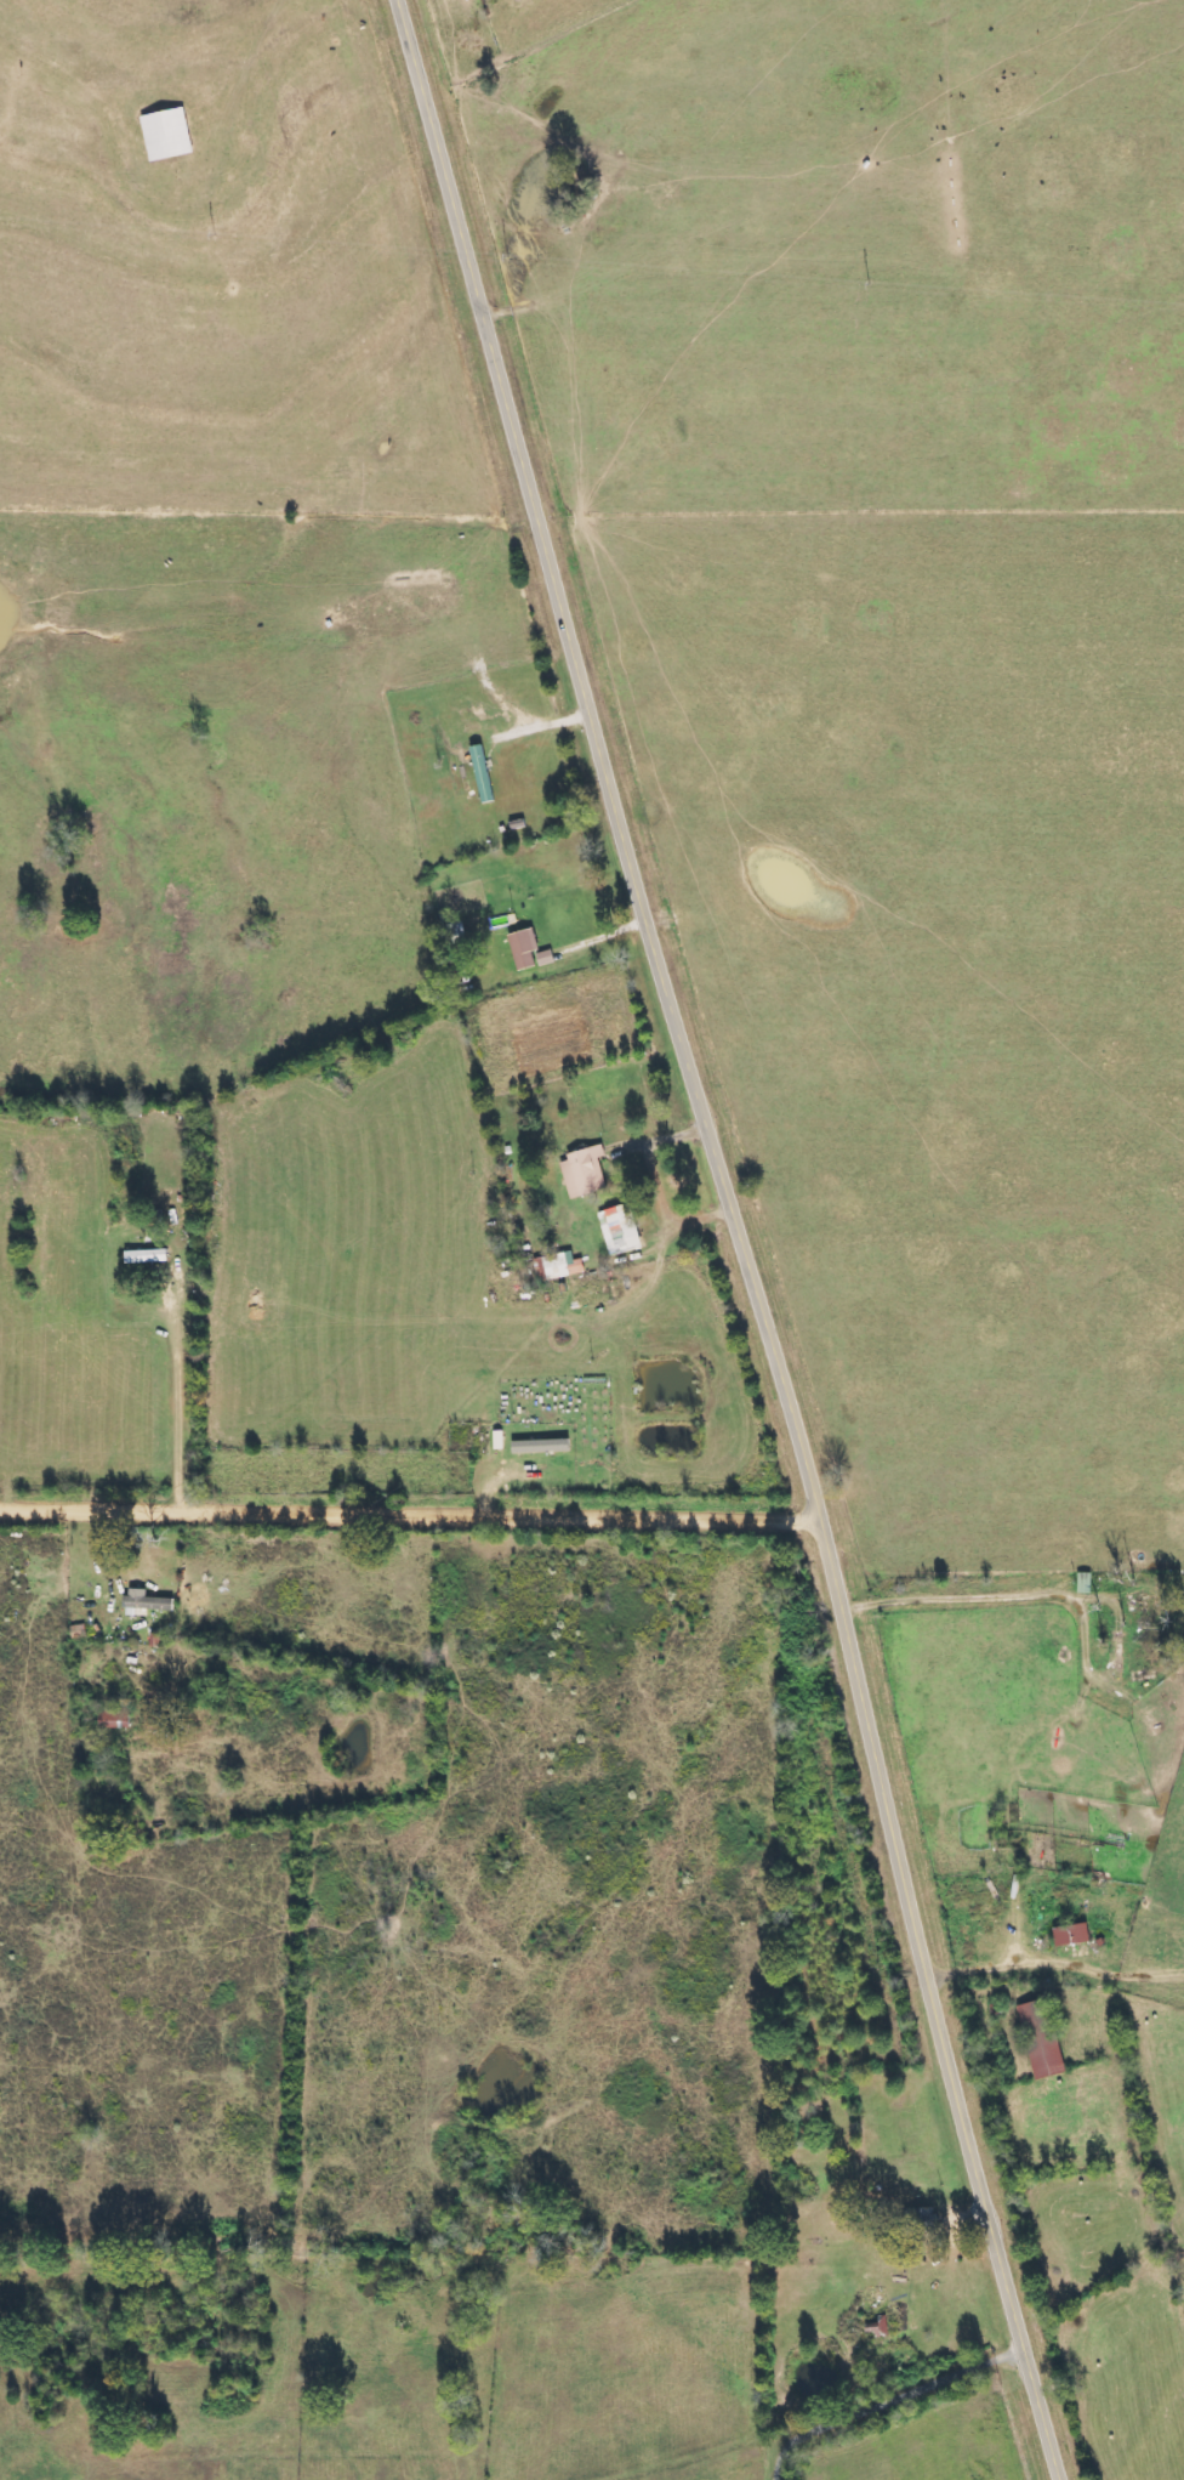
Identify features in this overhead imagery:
building: (166, 135)
building: (523, 948)
building: (584, 1171)
building: (620, 1230)
road: (739, 1237)
building: (552, 1269)
building: (540, 1447)
road: (410, 1515)
building: (146, 1602)
building: (1071, 1935)
building: (1041, 2039)
building: (921, 2221)
building: (878, 2328)

